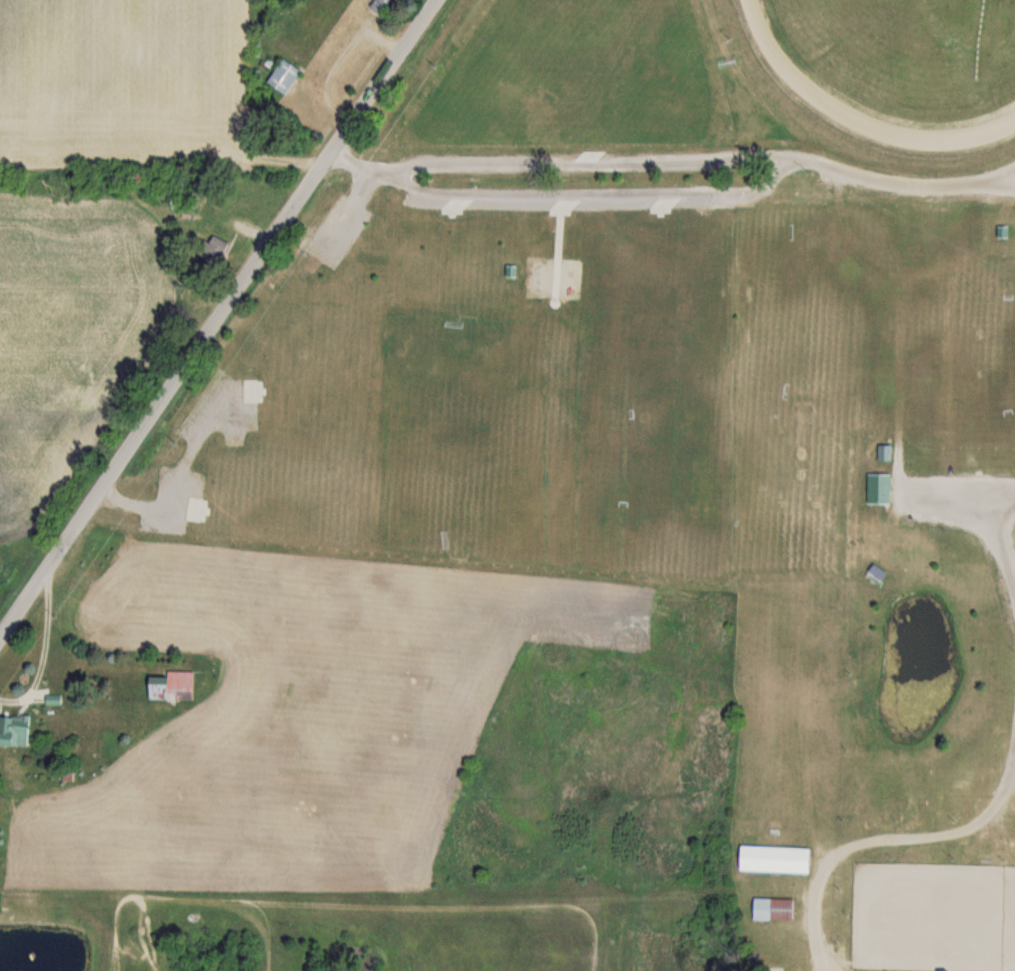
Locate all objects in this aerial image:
building: (379, 5)
building: (282, 75)
track: (807, 82)
road: (570, 147)
road: (347, 157)
road: (900, 160)
road: (574, 187)
building: (210, 248)
road: (220, 321)
park: (691, 406)
building: (883, 452)
building: (877, 487)
road: (994, 542)
building: (168, 685)
building: (14, 729)
road: (1013, 762)
road: (884, 840)
building: (772, 858)
building: (771, 908)

